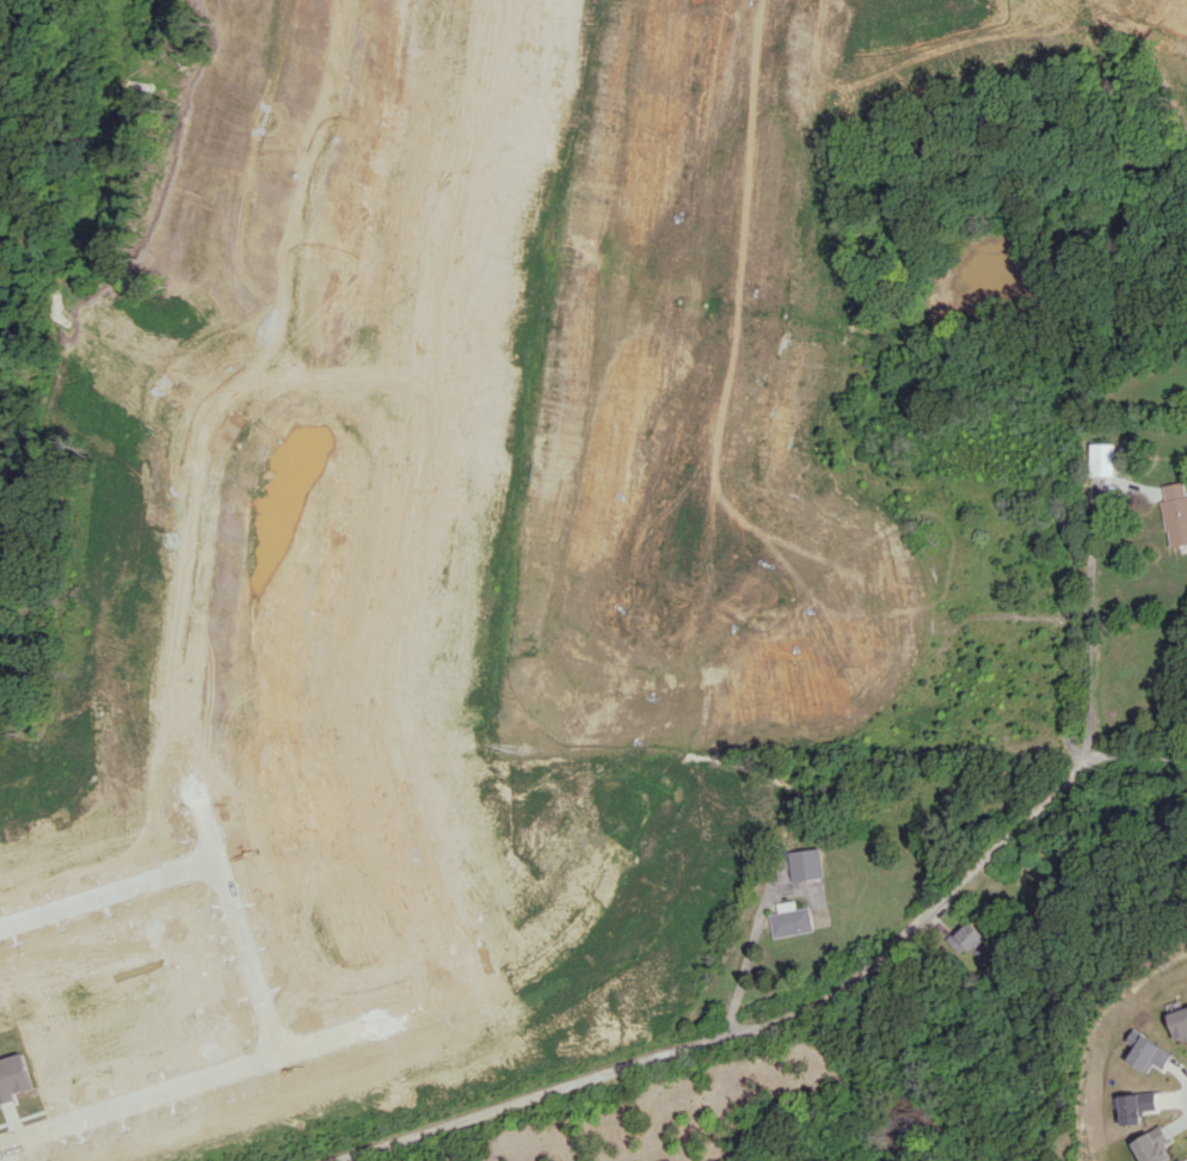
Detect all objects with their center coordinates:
building: (1102, 459)
road: (711, 496)
building: (1175, 512)
road: (405, 589)
road: (1090, 613)
road: (764, 616)
building: (808, 864)
road: (105, 892)
road: (233, 919)
building: (793, 919)
building: (970, 936)
road: (754, 947)
road: (793, 1014)
building: (1179, 1024)
building: (1148, 1053)
road: (279, 1057)
building: (1134, 1106)

